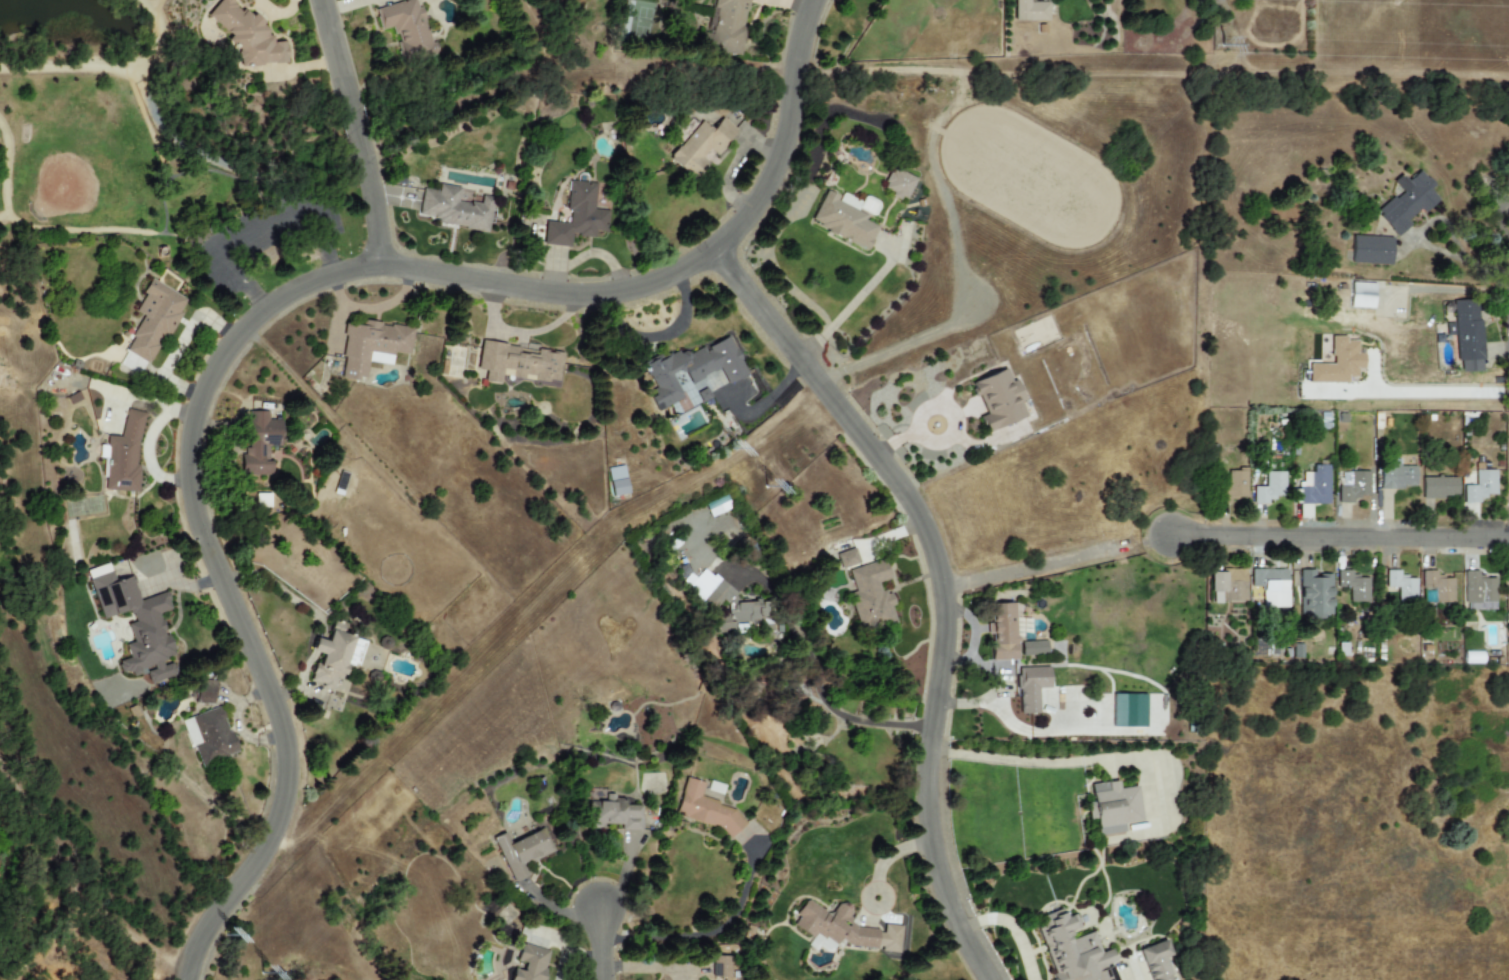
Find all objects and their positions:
road: (149, 6)
building: (1029, 10)
building: (640, 24)
building: (727, 25)
building: (406, 27)
building: (247, 35)
road: (106, 71)
road: (358, 132)
building: (700, 146)
building: (898, 183)
building: (1407, 201)
building: (453, 208)
building: (579, 214)
building: (842, 219)
building: (1371, 249)
building: (1361, 294)
road: (850, 306)
road: (270, 307)
building: (153, 321)
building: (1466, 335)
building: (370, 346)
building: (518, 363)
building: (1337, 363)
building: (693, 369)
road: (1430, 391)
building: (703, 395)
building: (997, 399)
road: (761, 404)
road: (945, 440)
building: (260, 443)
building: (122, 456)
building: (1395, 475)
building: (616, 480)
building: (1233, 486)
building: (1353, 486)
building: (1439, 486)
building: (1480, 486)
building: (1269, 488)
building: (1312, 489)
road: (1332, 534)
building: (847, 558)
road: (943, 583)
building: (1227, 585)
building: (1353, 585)
building: (1272, 586)
building: (1402, 586)
building: (1438, 587)
building: (1478, 587)
building: (1314, 593)
building: (870, 595)
road: (1508, 600)
building: (729, 601)
building: (135, 623)
building: (723, 626)
building: (1001, 631)
building: (1033, 648)
building: (330, 657)
road: (811, 676)
building: (1031, 688)
building: (205, 692)
building: (1128, 711)
building: (209, 737)
road: (1011, 758)
building: (1114, 807)
building: (705, 809)
building: (613, 814)
building: (521, 852)
road: (891, 856)
road: (1011, 927)
building: (832, 928)
road: (711, 932)
road: (603, 943)
building: (1070, 950)
building: (1157, 962)
building: (530, 963)
building: (720, 966)

